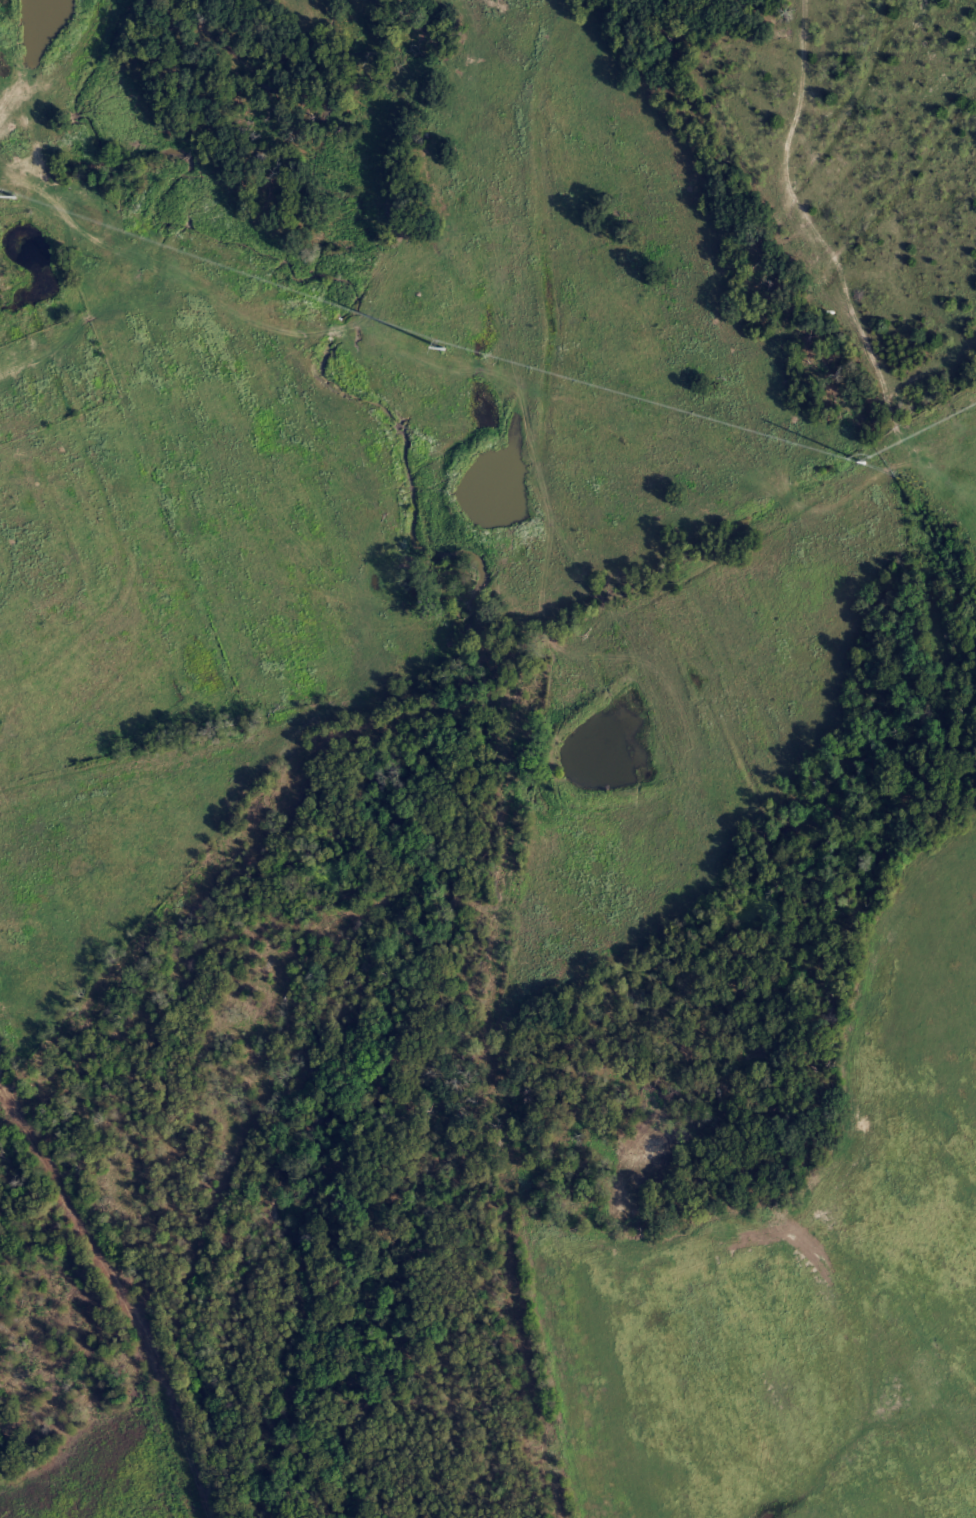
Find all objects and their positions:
power tower: (14, 197)
power tower: (444, 348)
power tower: (864, 462)
road: (120, 1293)

